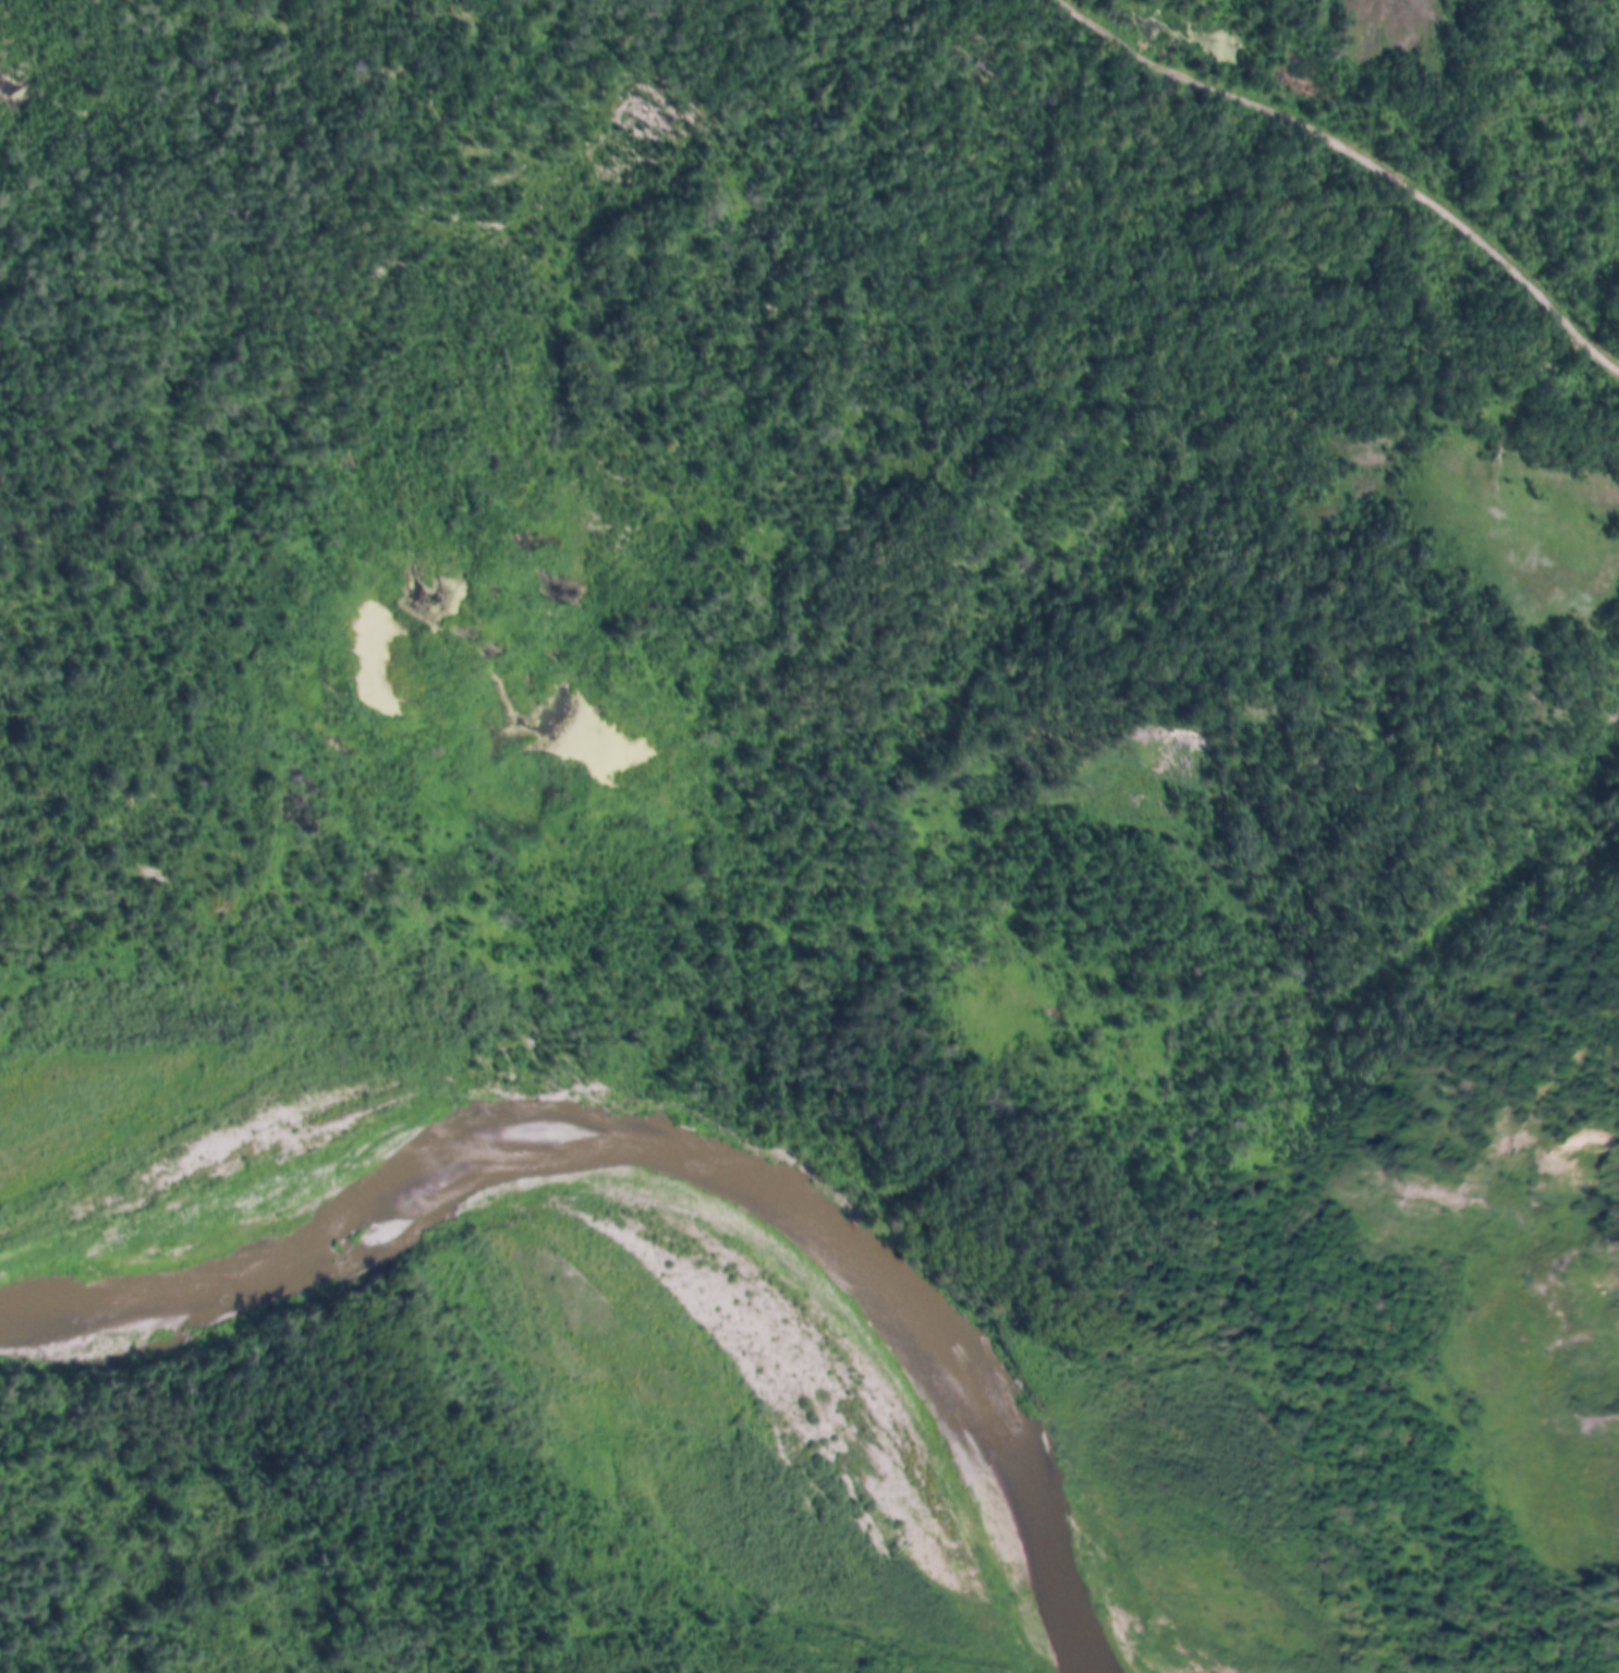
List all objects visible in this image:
road: (1365, 148)
road: (1525, 402)

